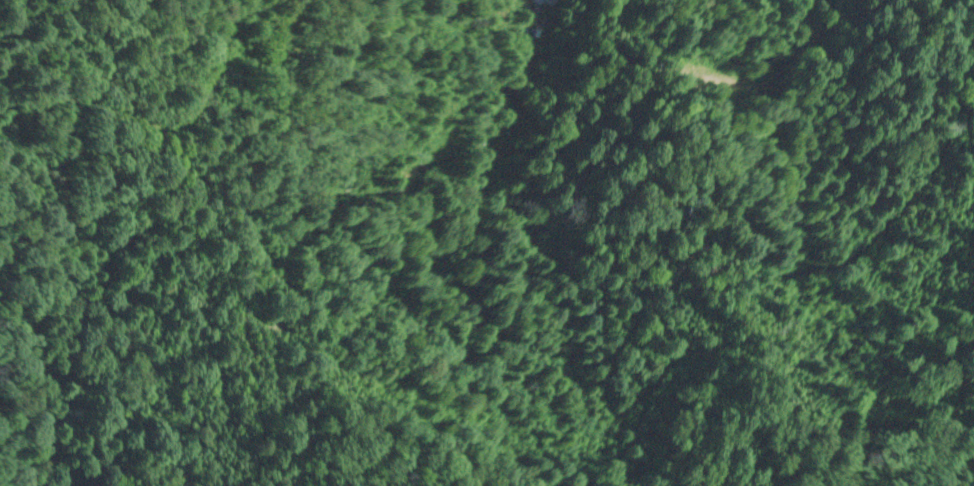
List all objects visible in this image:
building: (546, 3)

